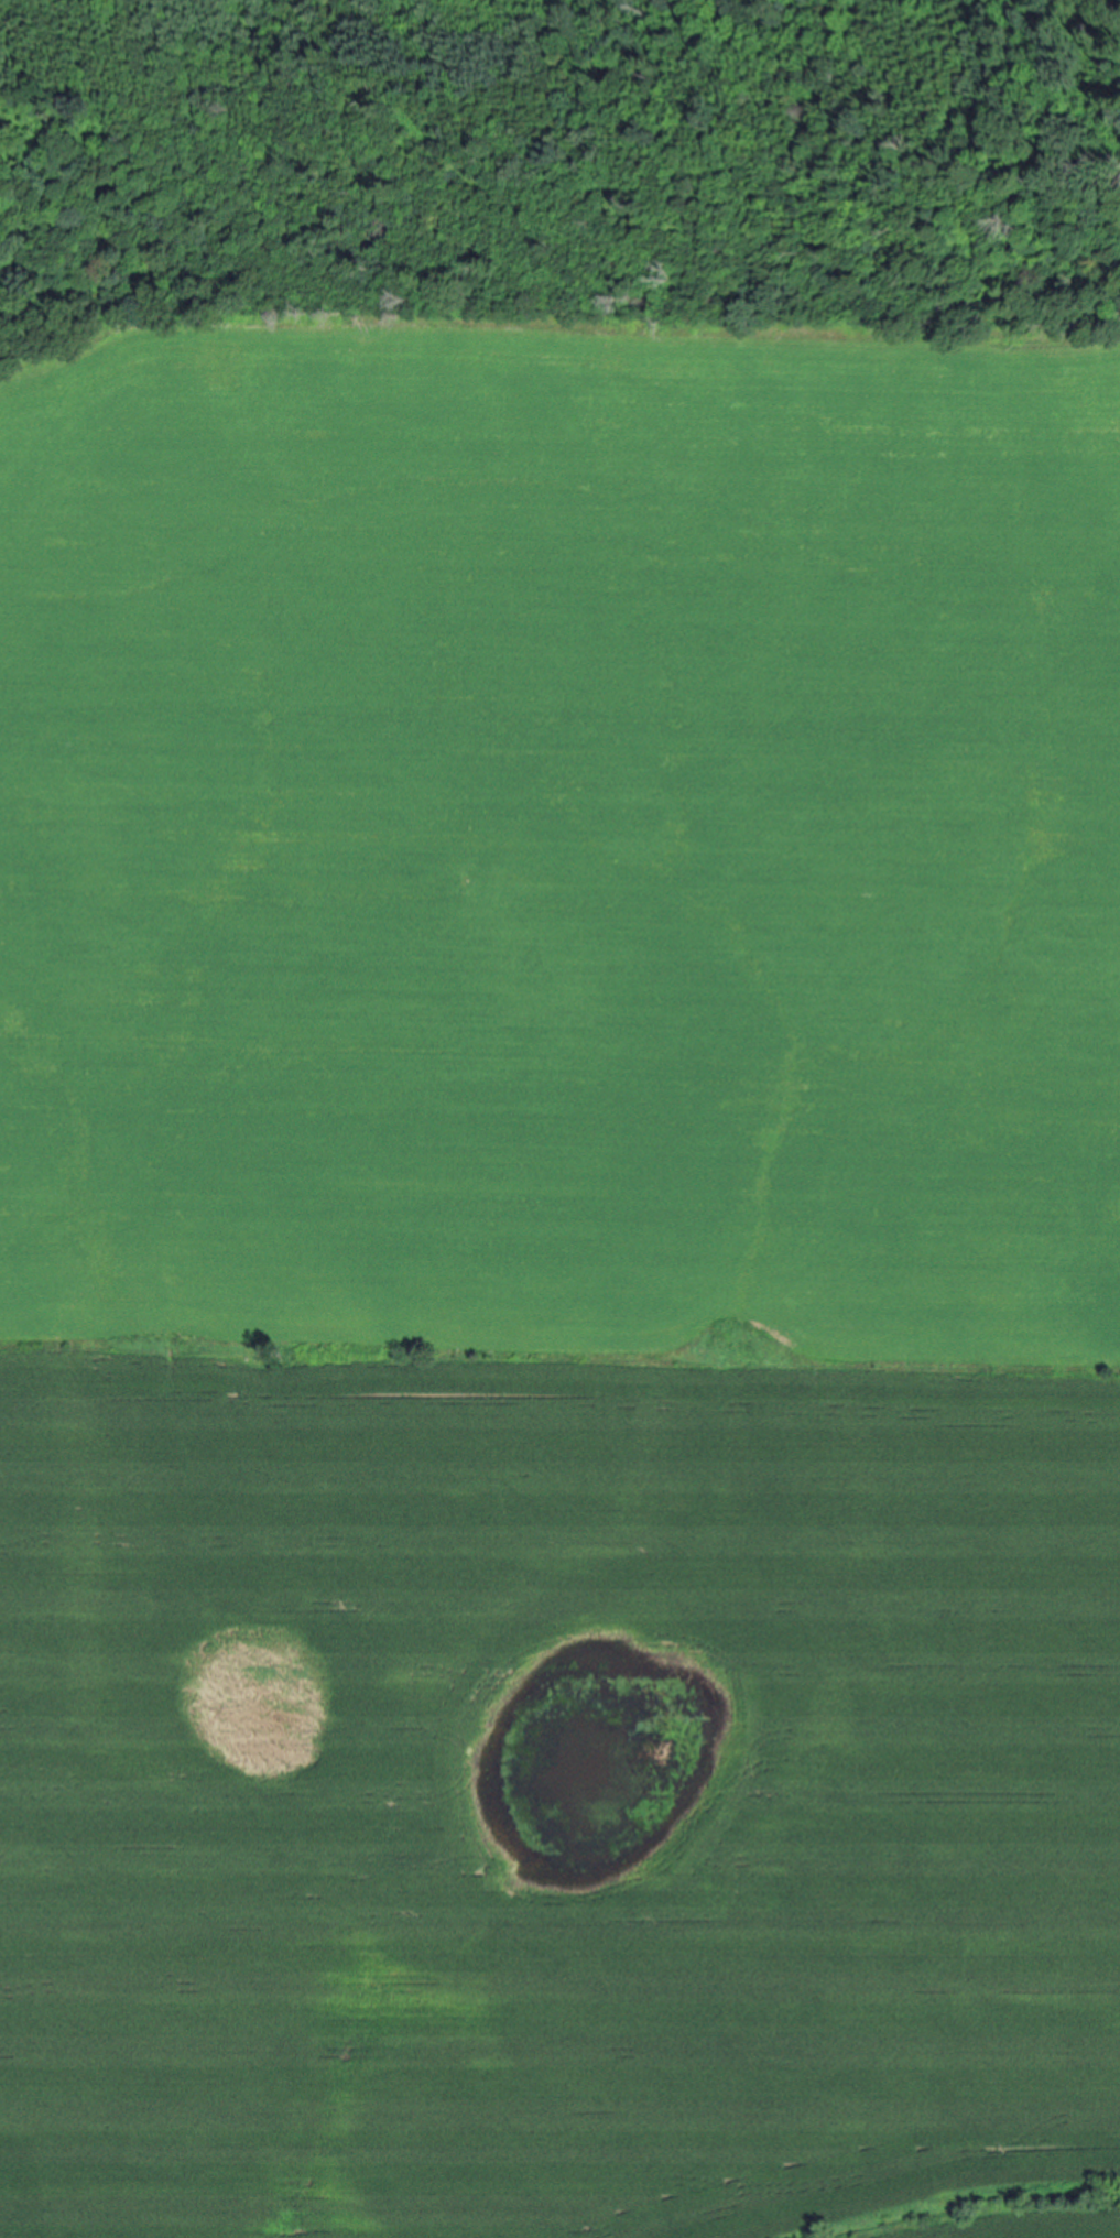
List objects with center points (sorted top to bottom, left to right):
crop: (561, 1281)

